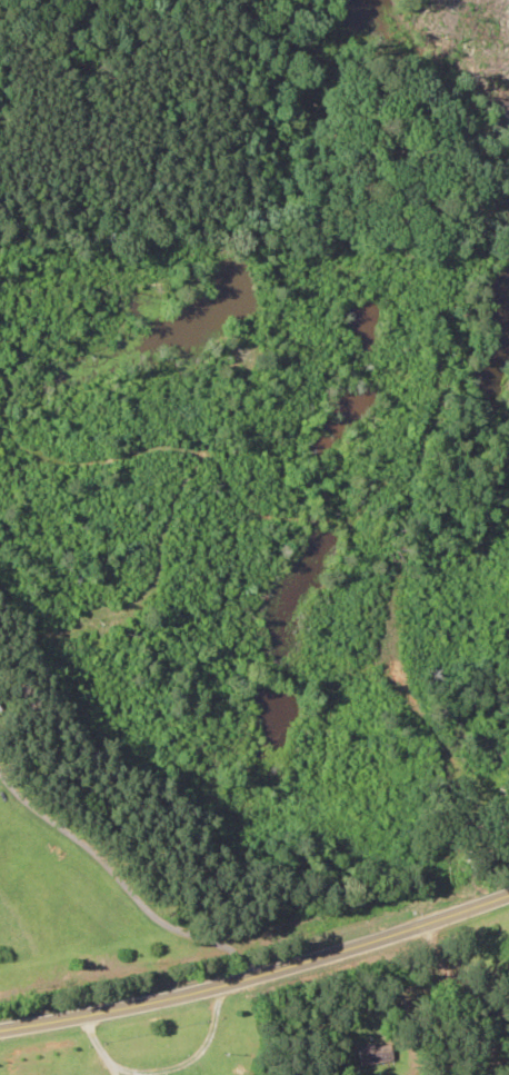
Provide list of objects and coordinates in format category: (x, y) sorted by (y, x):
building: (0, 713)
road: (256, 958)
building: (372, 1053)

